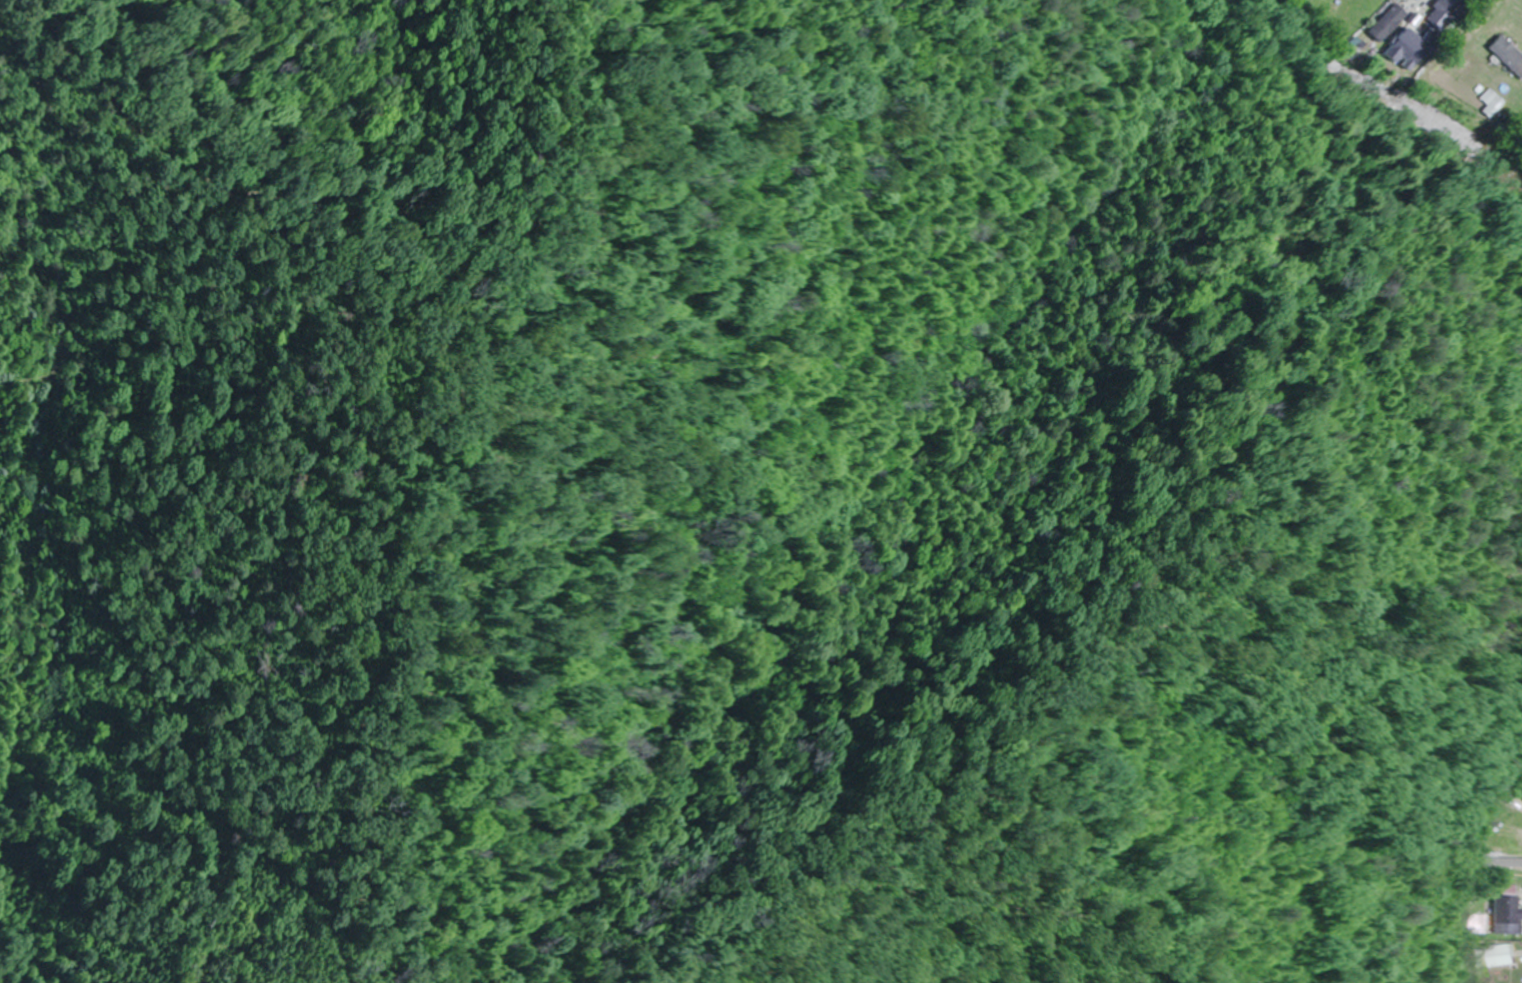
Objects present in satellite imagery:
building: (1450, 4)
building: (1384, 22)
building: (1405, 46)
building: (1507, 55)
building: (1493, 100)
building: (1504, 863)
building: (1509, 910)
building: (1484, 921)
building: (1492, 955)

